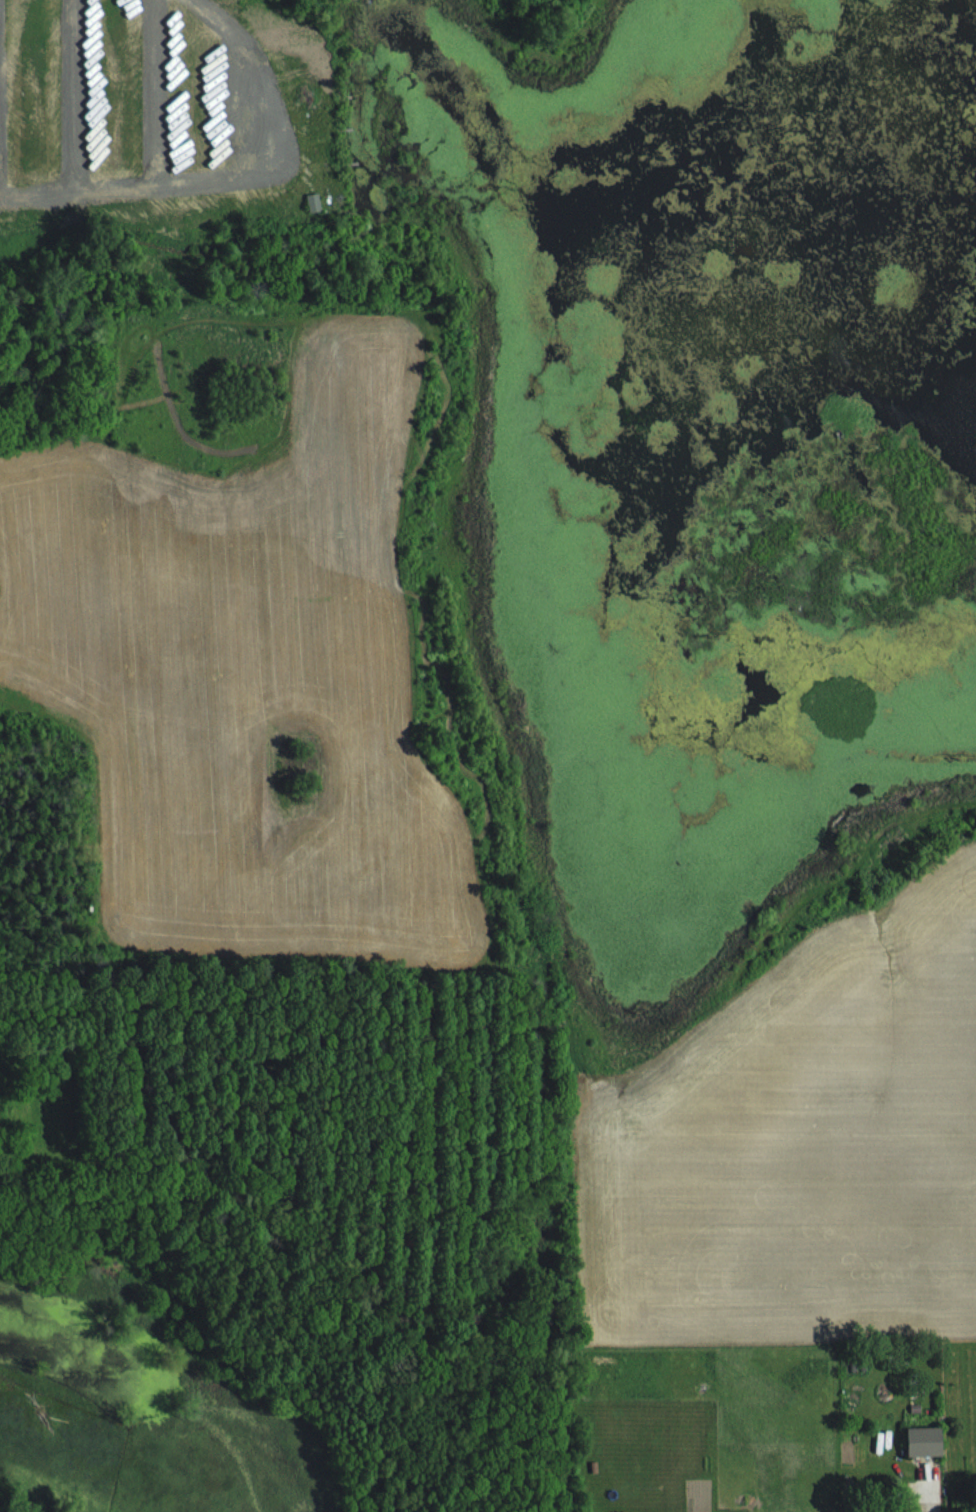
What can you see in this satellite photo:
building: (314, 52)
road: (154, 93)
road: (73, 97)
road: (218, 180)
building: (928, 1440)

